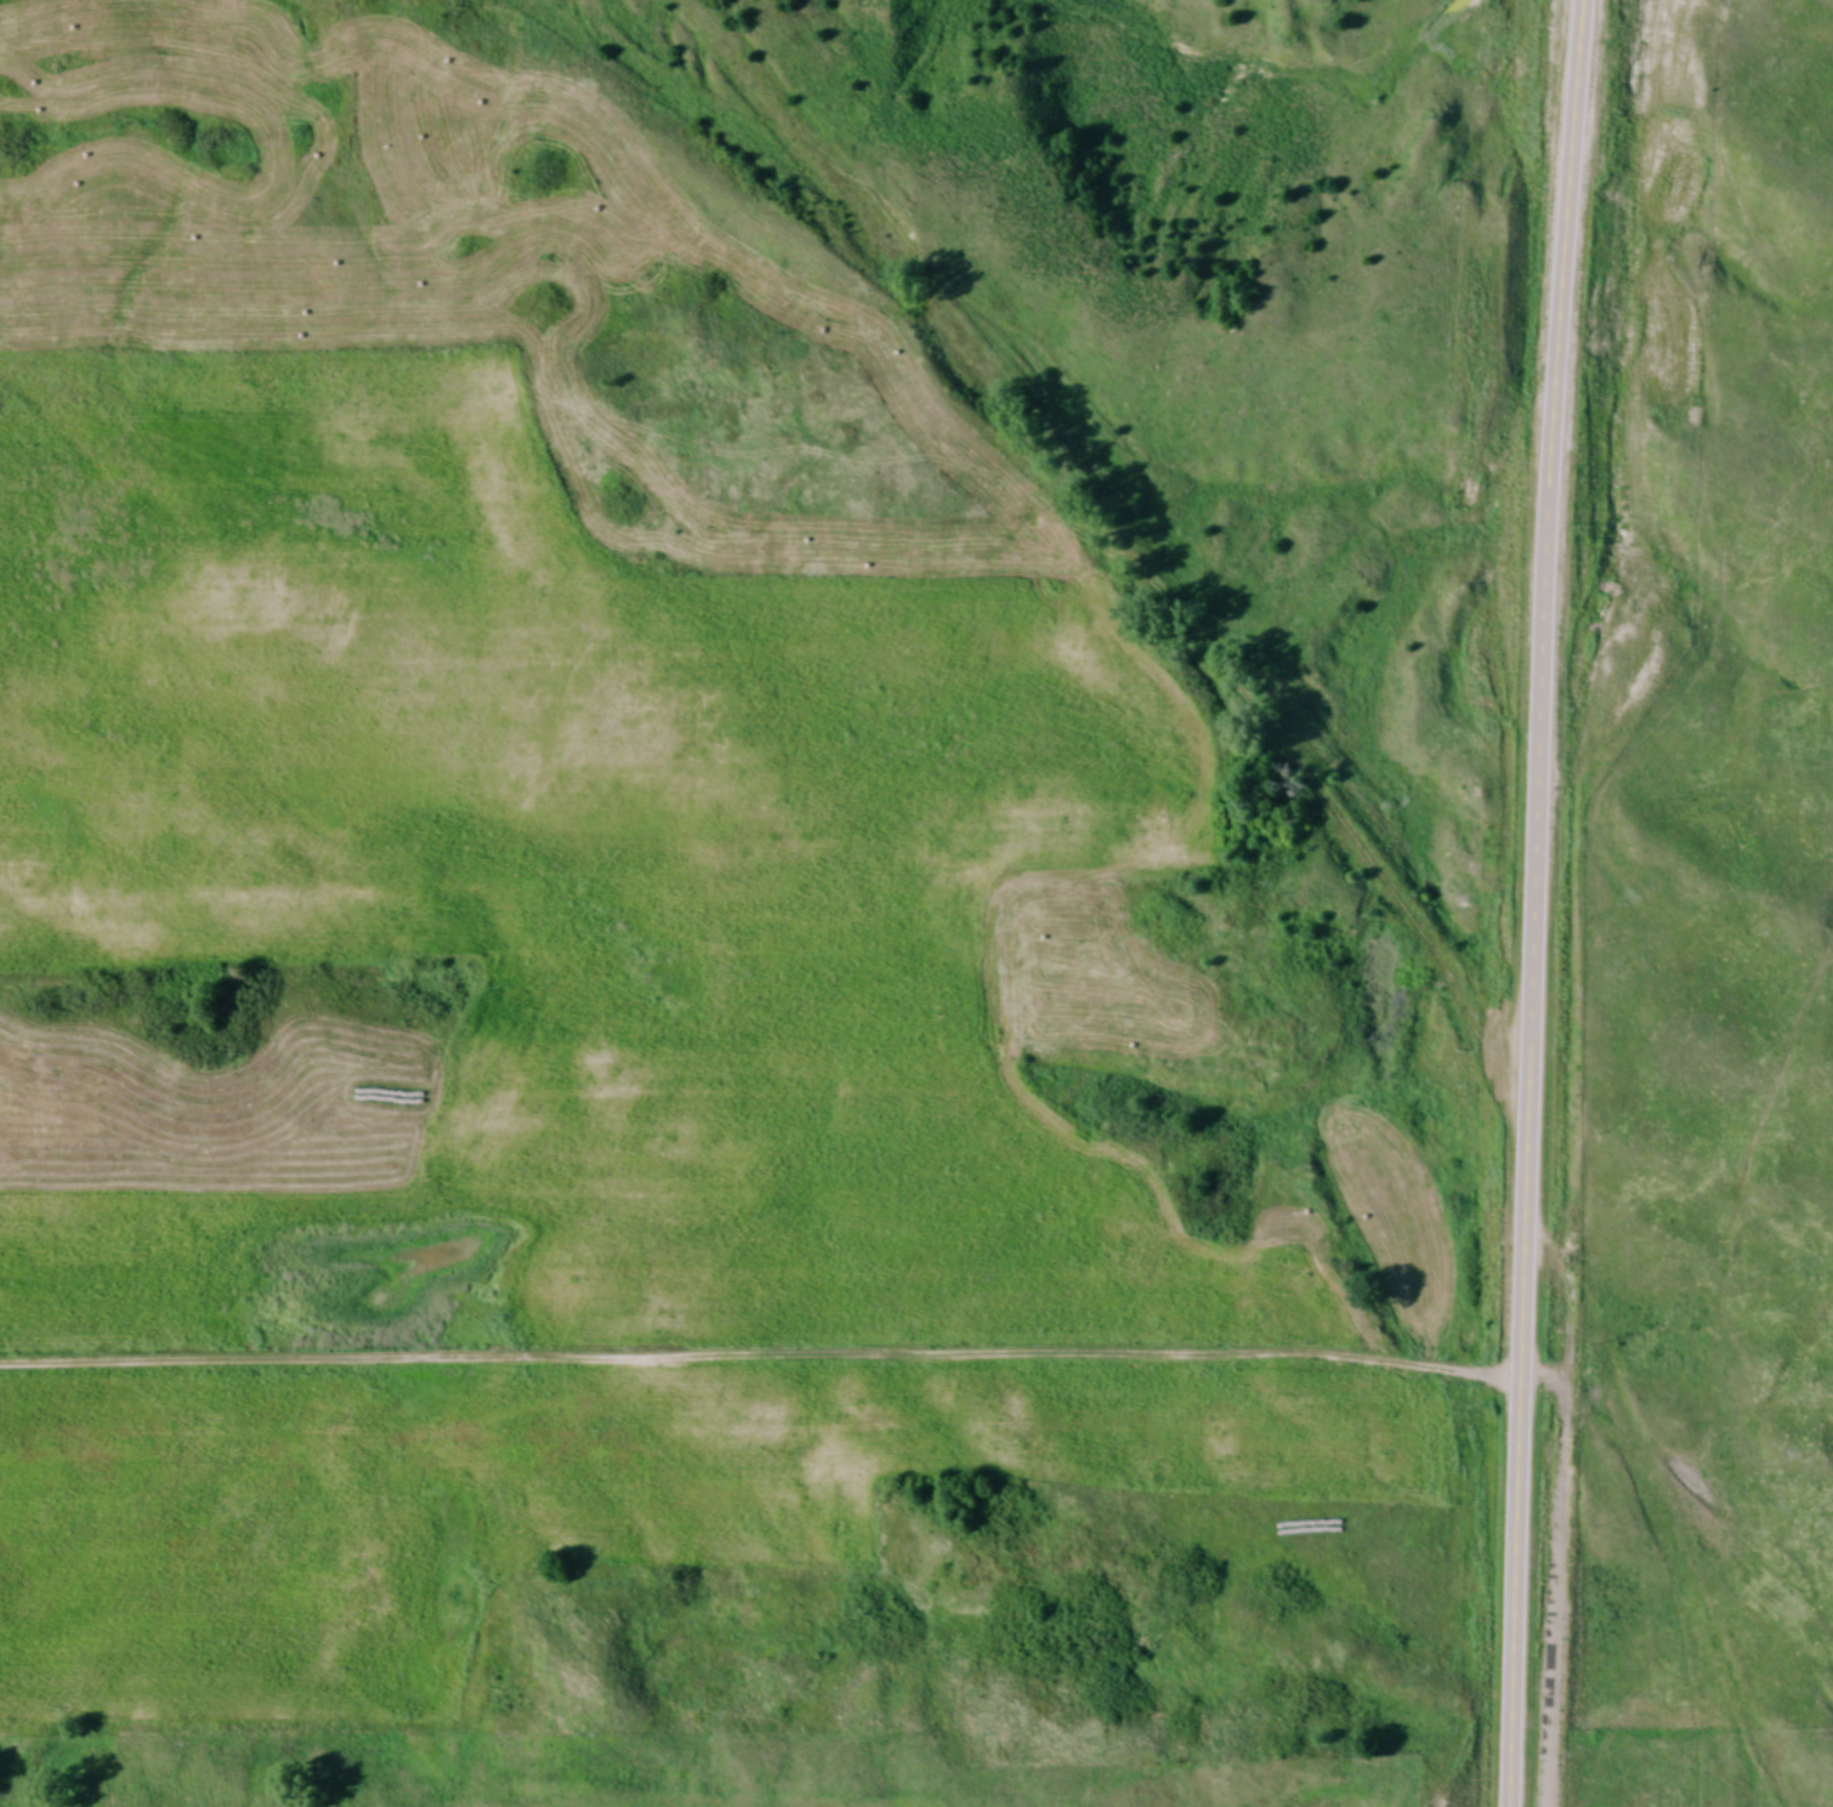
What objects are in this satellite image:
road: (1539, 903)

